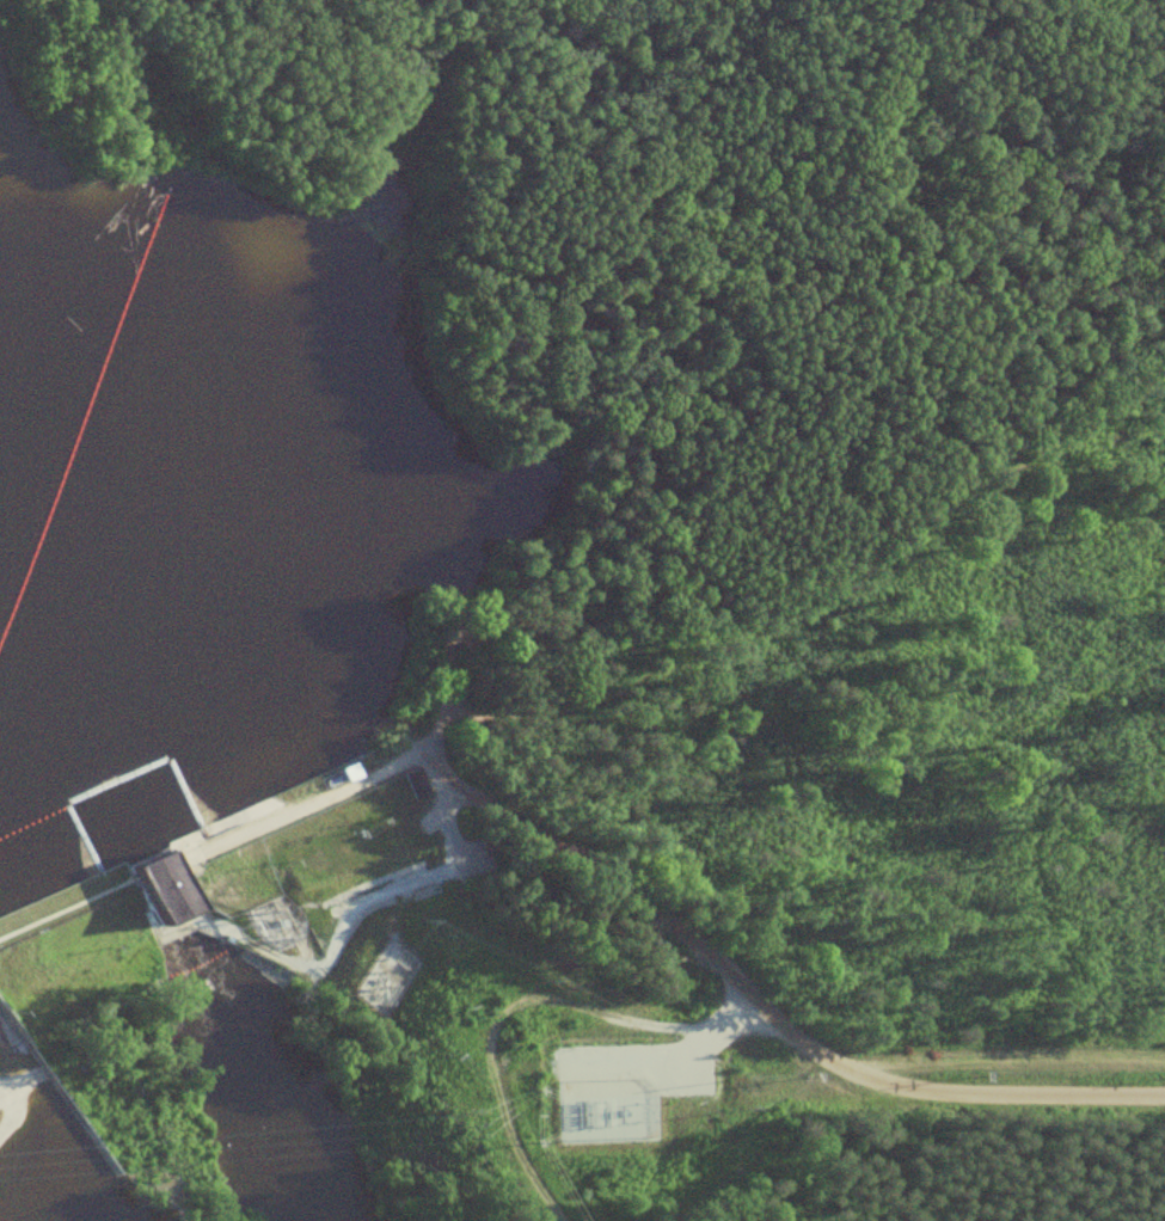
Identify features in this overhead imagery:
building: (416, 783)
road: (335, 791)
dam: (183, 835)
road: (440, 876)
building: (165, 888)
power substation: (275, 922)
road: (760, 1008)
road: (504, 1017)
river: (253, 1069)
road: (676, 1075)
power substation: (603, 1113)
river: (31, 1178)

